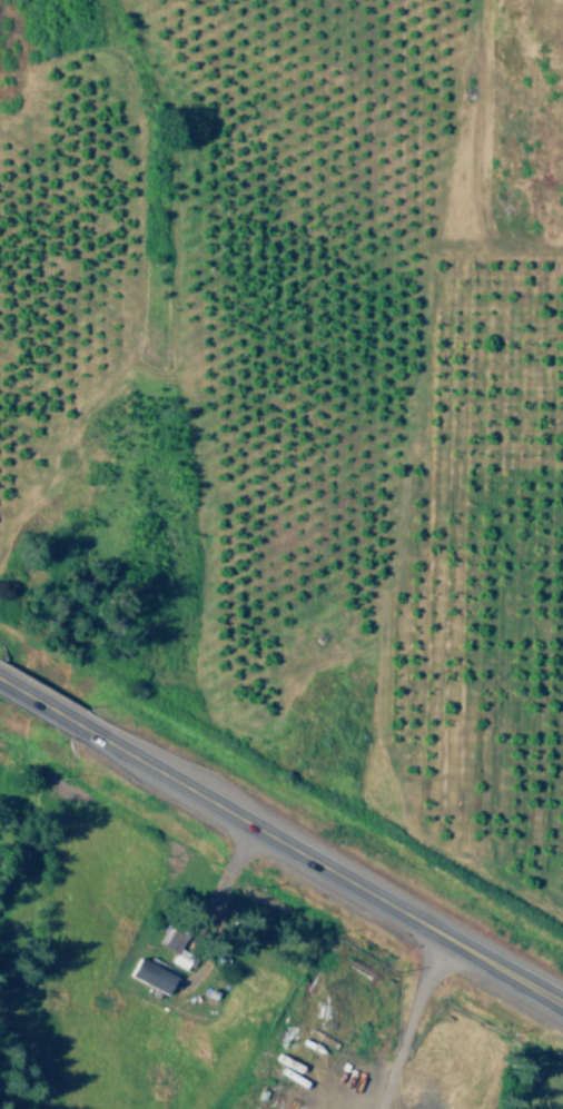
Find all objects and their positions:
road: (281, 844)
building: (146, 976)

